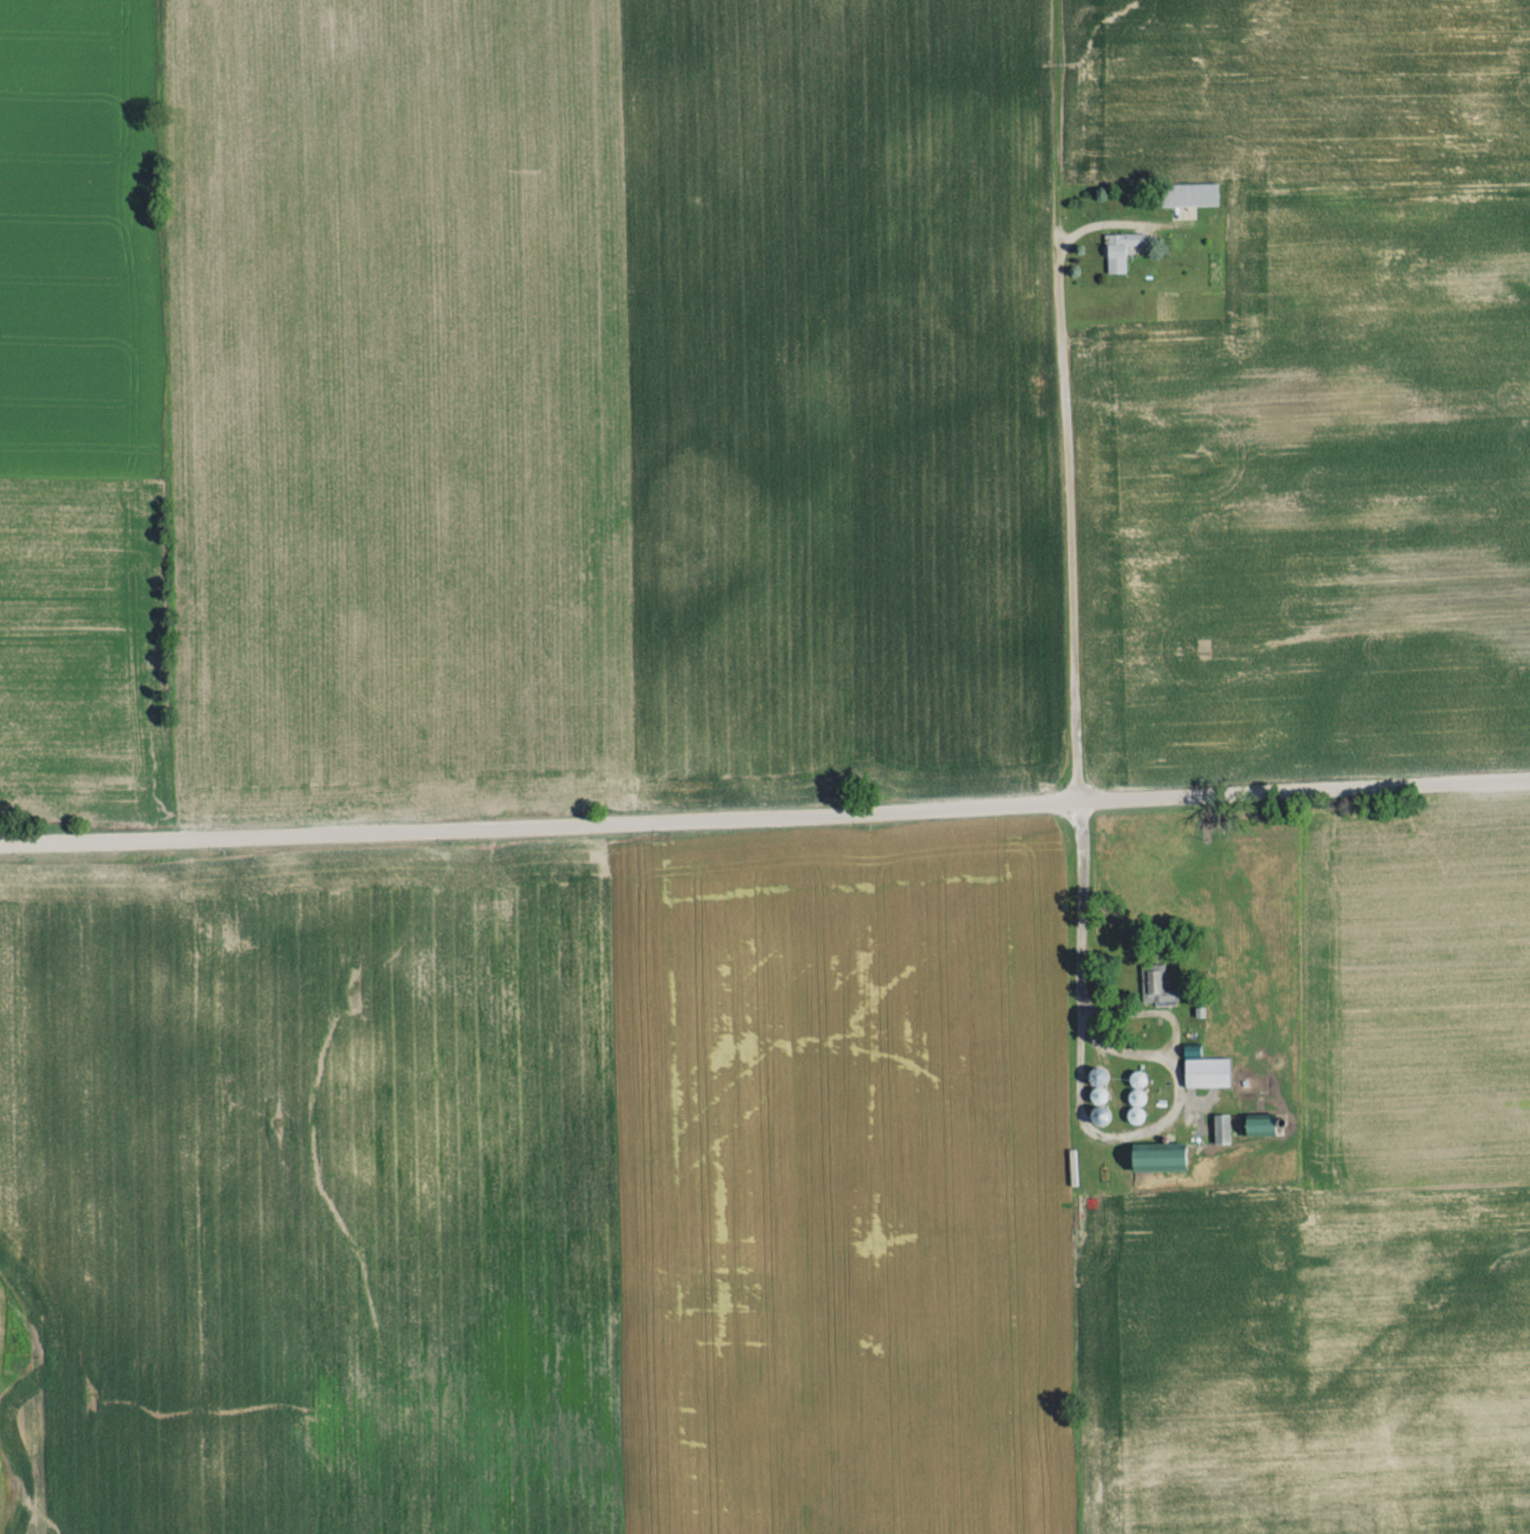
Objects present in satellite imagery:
building: (1190, 194)
building: (1120, 250)
road: (1071, 526)
road: (765, 813)
road: (1082, 910)
building: (1157, 986)
building: (1207, 1072)
road: (1159, 1125)
building: (1260, 1127)
building: (1222, 1128)

